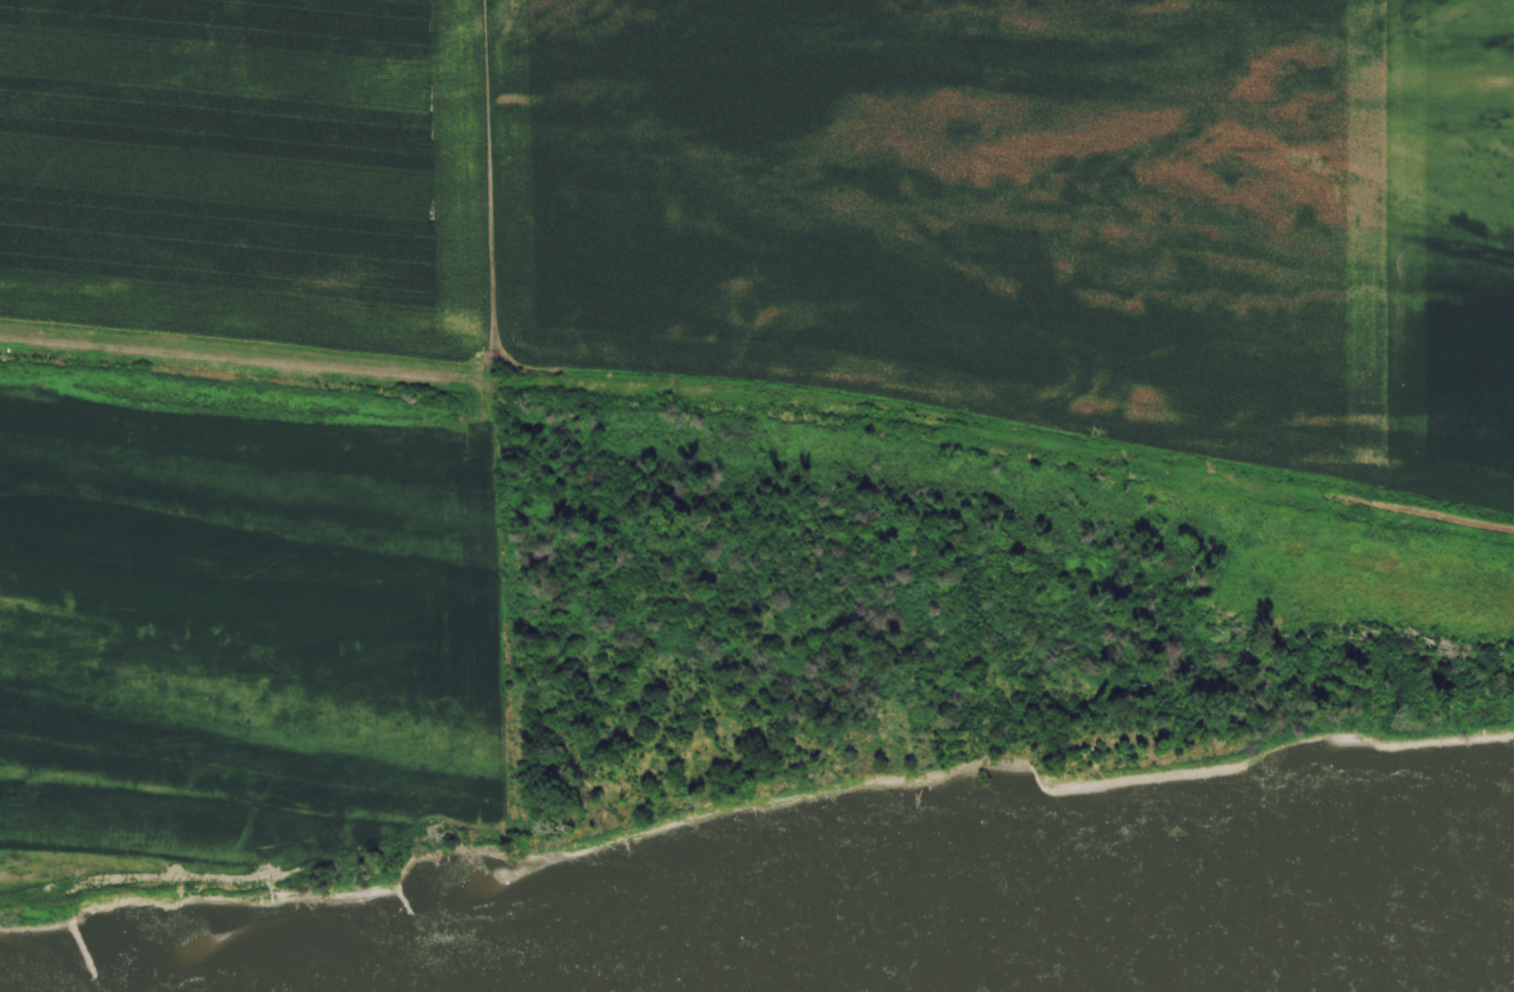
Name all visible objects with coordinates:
river: (1348, 968)

